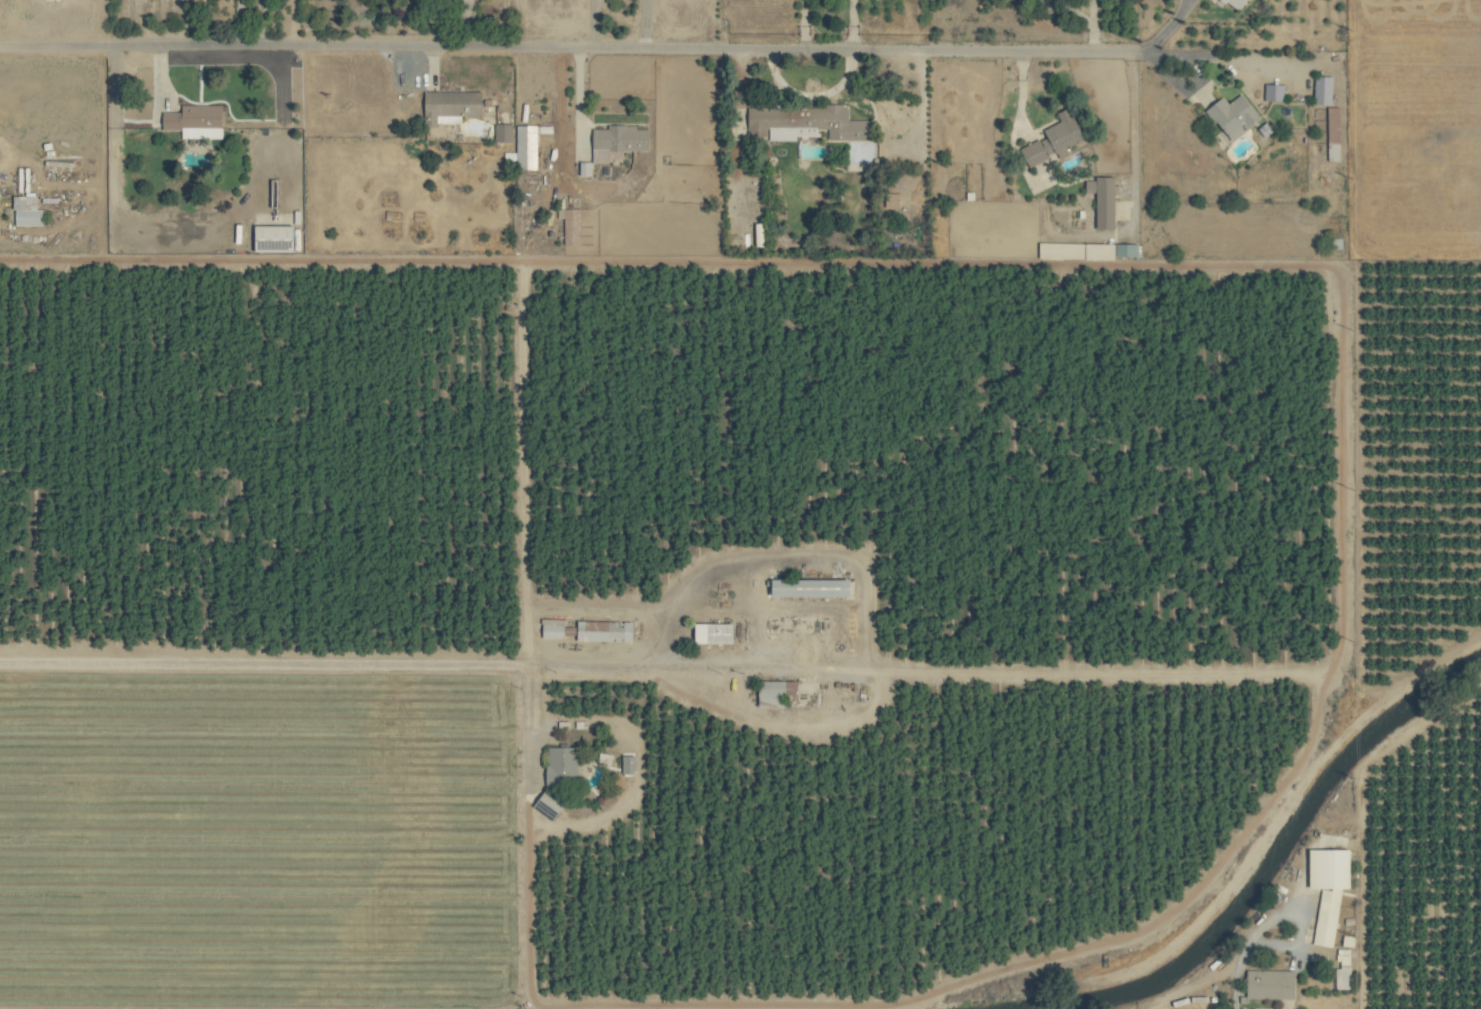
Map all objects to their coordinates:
building: (1237, 4)
road: (589, 23)
road: (641, 23)
road: (803, 23)
road: (853, 23)
road: (1169, 26)
road: (572, 46)
road: (1189, 59)
building: (1324, 90)
road: (807, 92)
building: (1275, 92)
road: (565, 96)
building: (452, 107)
building: (1234, 116)
building: (197, 121)
building: (806, 123)
crop: (1415, 129)
building: (504, 133)
building: (1335, 134)
building: (621, 140)
building: (1055, 140)
building: (525, 147)
building: (586, 169)
building: (893, 200)
building: (1104, 201)
building: (28, 211)
building: (572, 226)
building: (274, 238)
building: (1089, 251)
road: (1162, 267)
road: (522, 462)
crop: (740, 504)
building: (813, 589)
building: (606, 631)
building: (715, 633)
road: (365, 662)
building: (777, 692)
building: (629, 765)
building: (562, 766)
road: (591, 819)
building: (1330, 890)
road: (1299, 922)
building: (1343, 968)
road: (1235, 971)
building: (1271, 985)
road: (911, 998)

